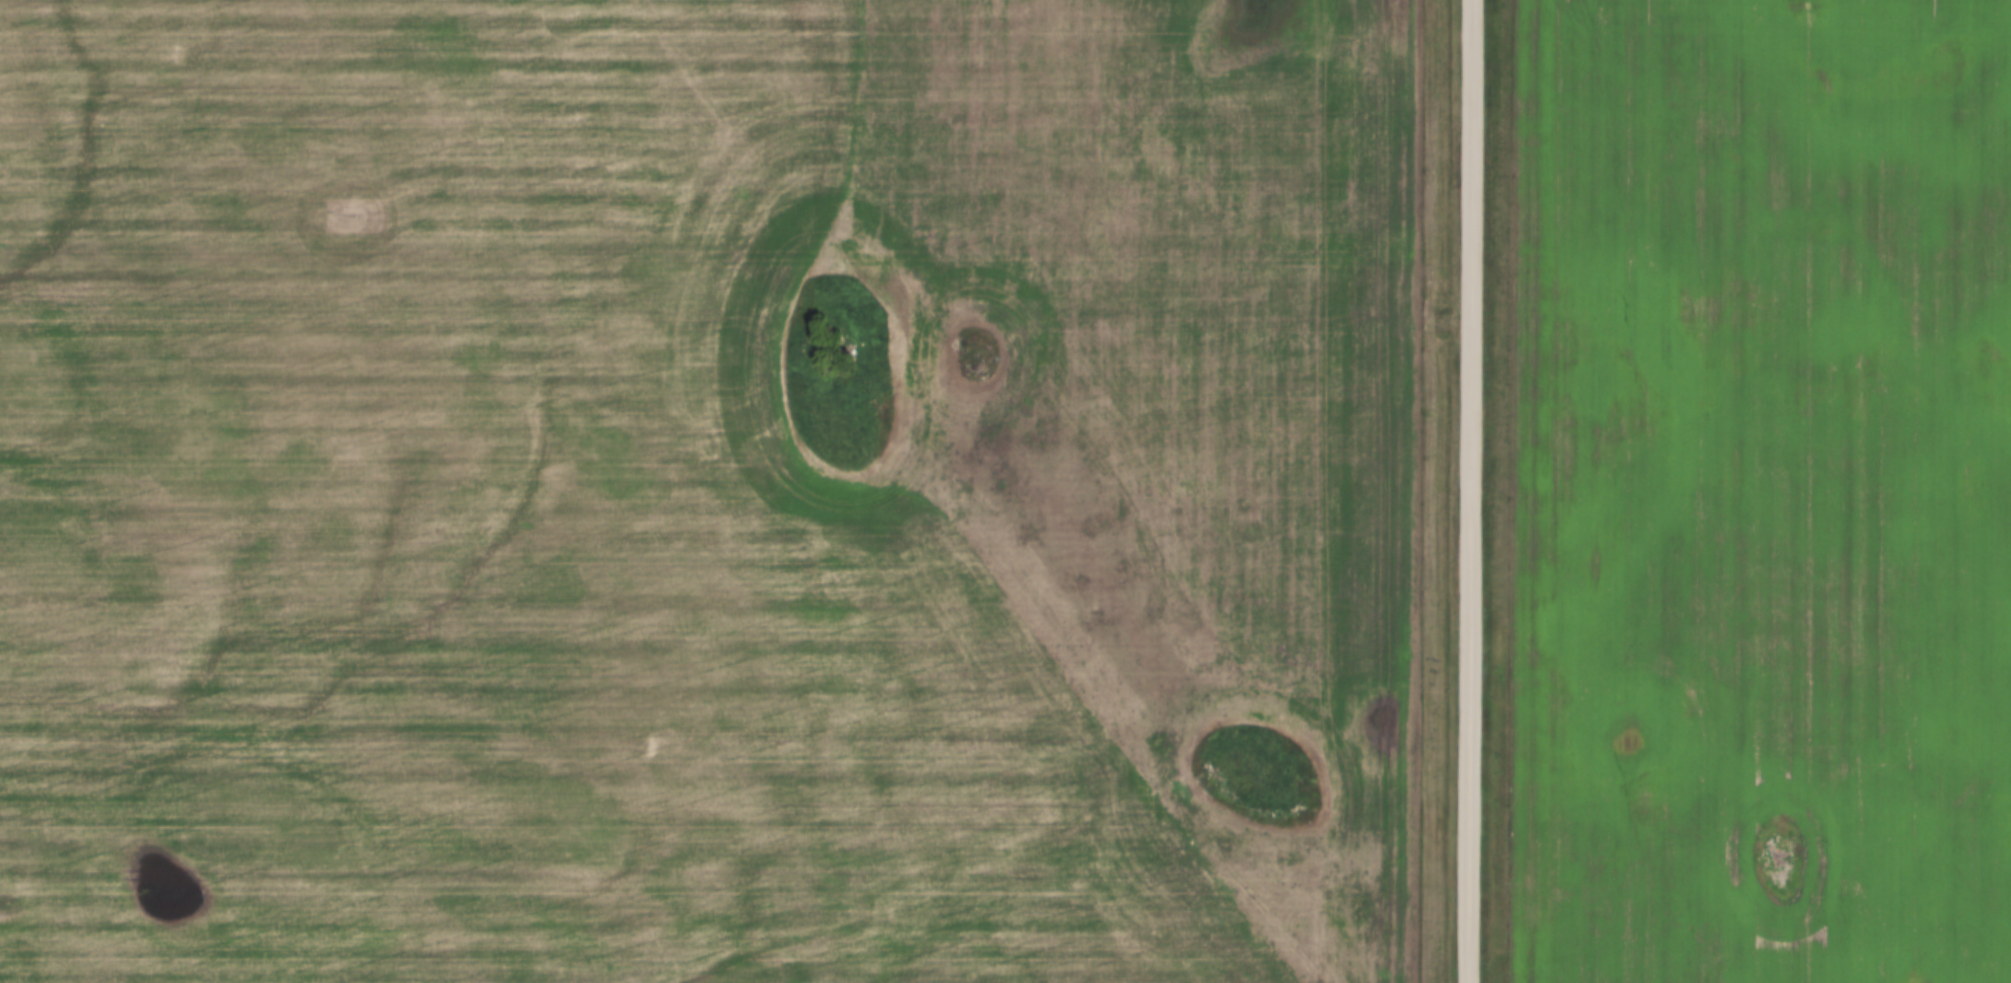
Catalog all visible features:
road: (1475, 491)

